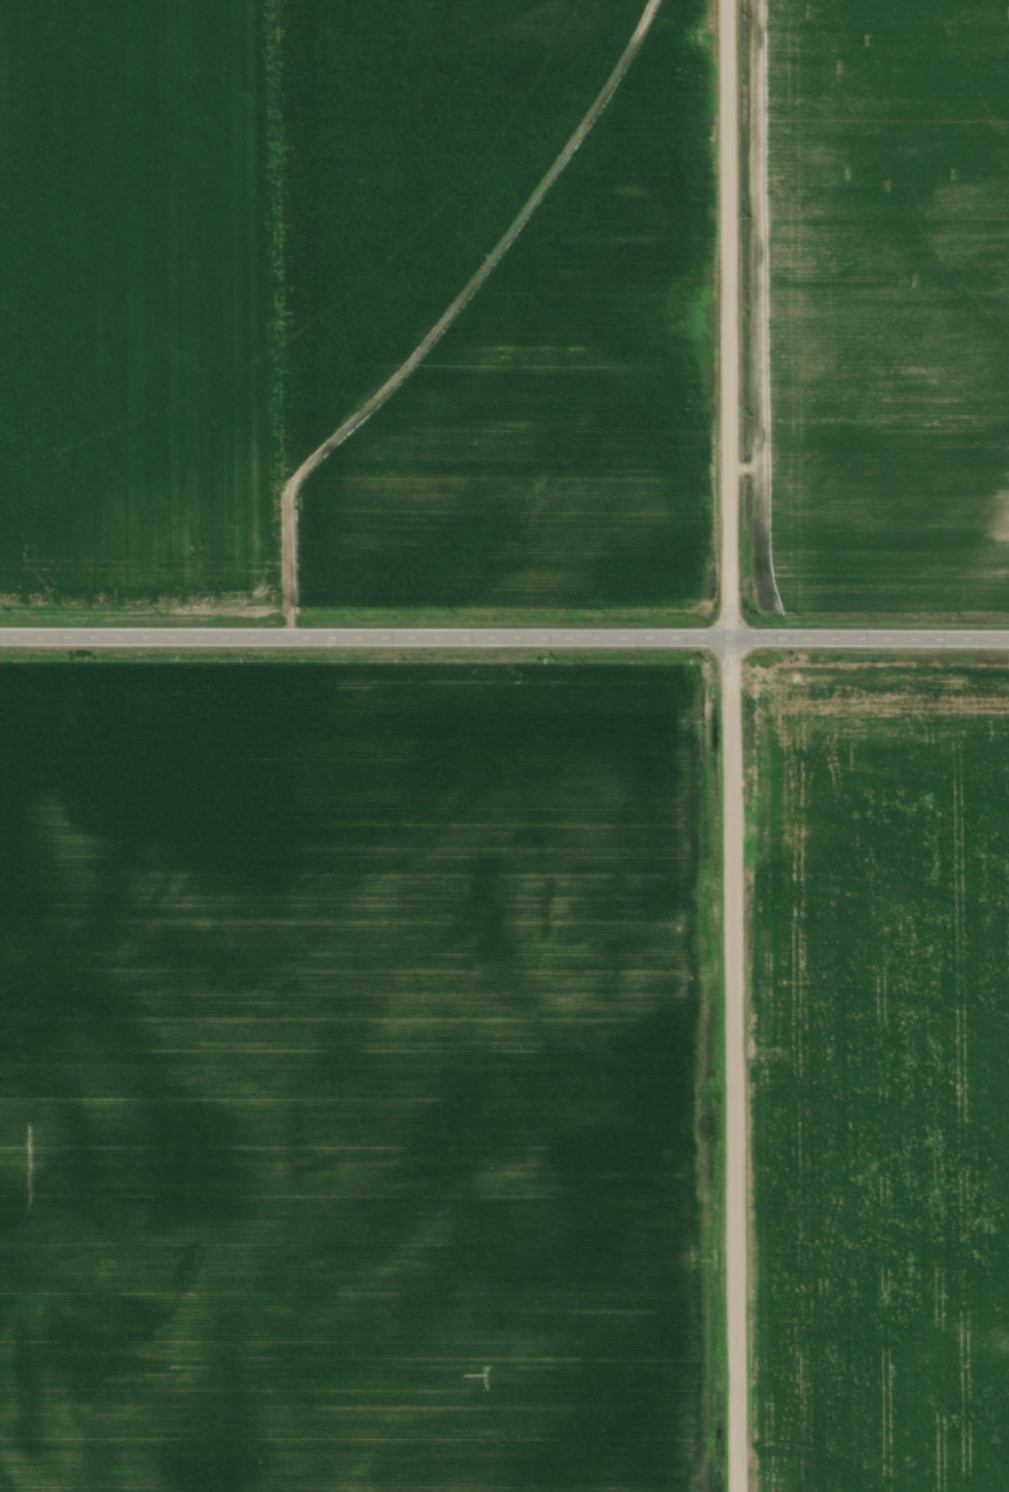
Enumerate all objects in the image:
road: (504, 638)
road: (729, 745)

